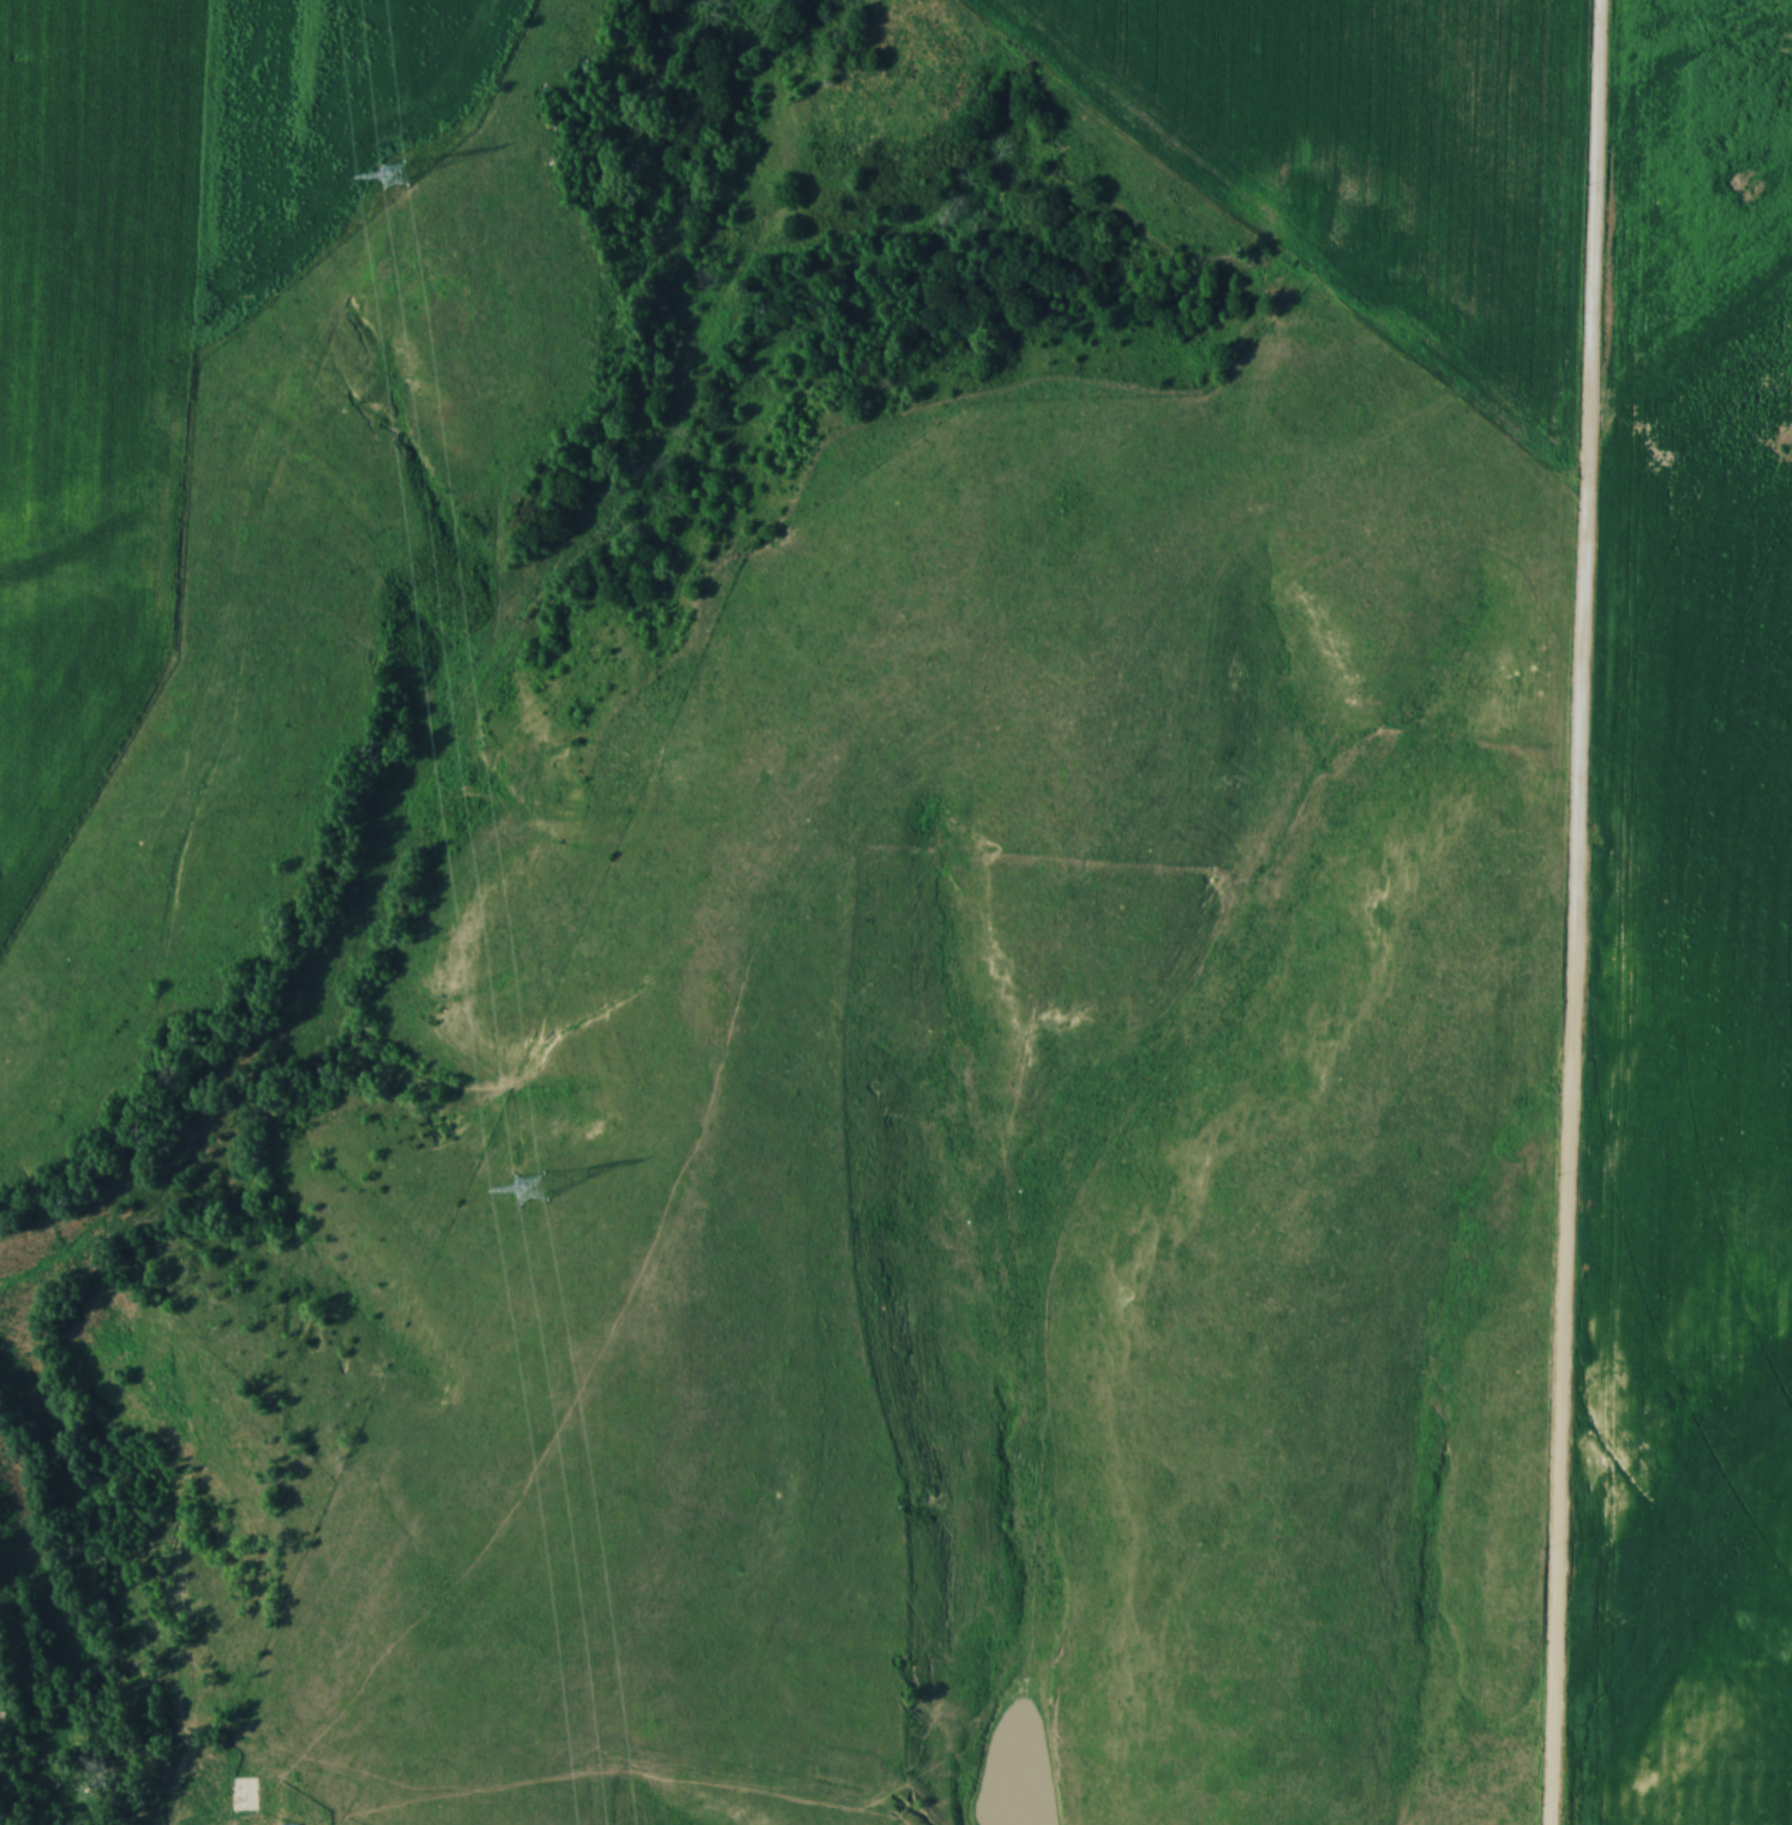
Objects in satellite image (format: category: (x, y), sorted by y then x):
power tower: (392, 175)
road: (1570, 911)
power tower: (531, 1189)
building: (6, 1823)

